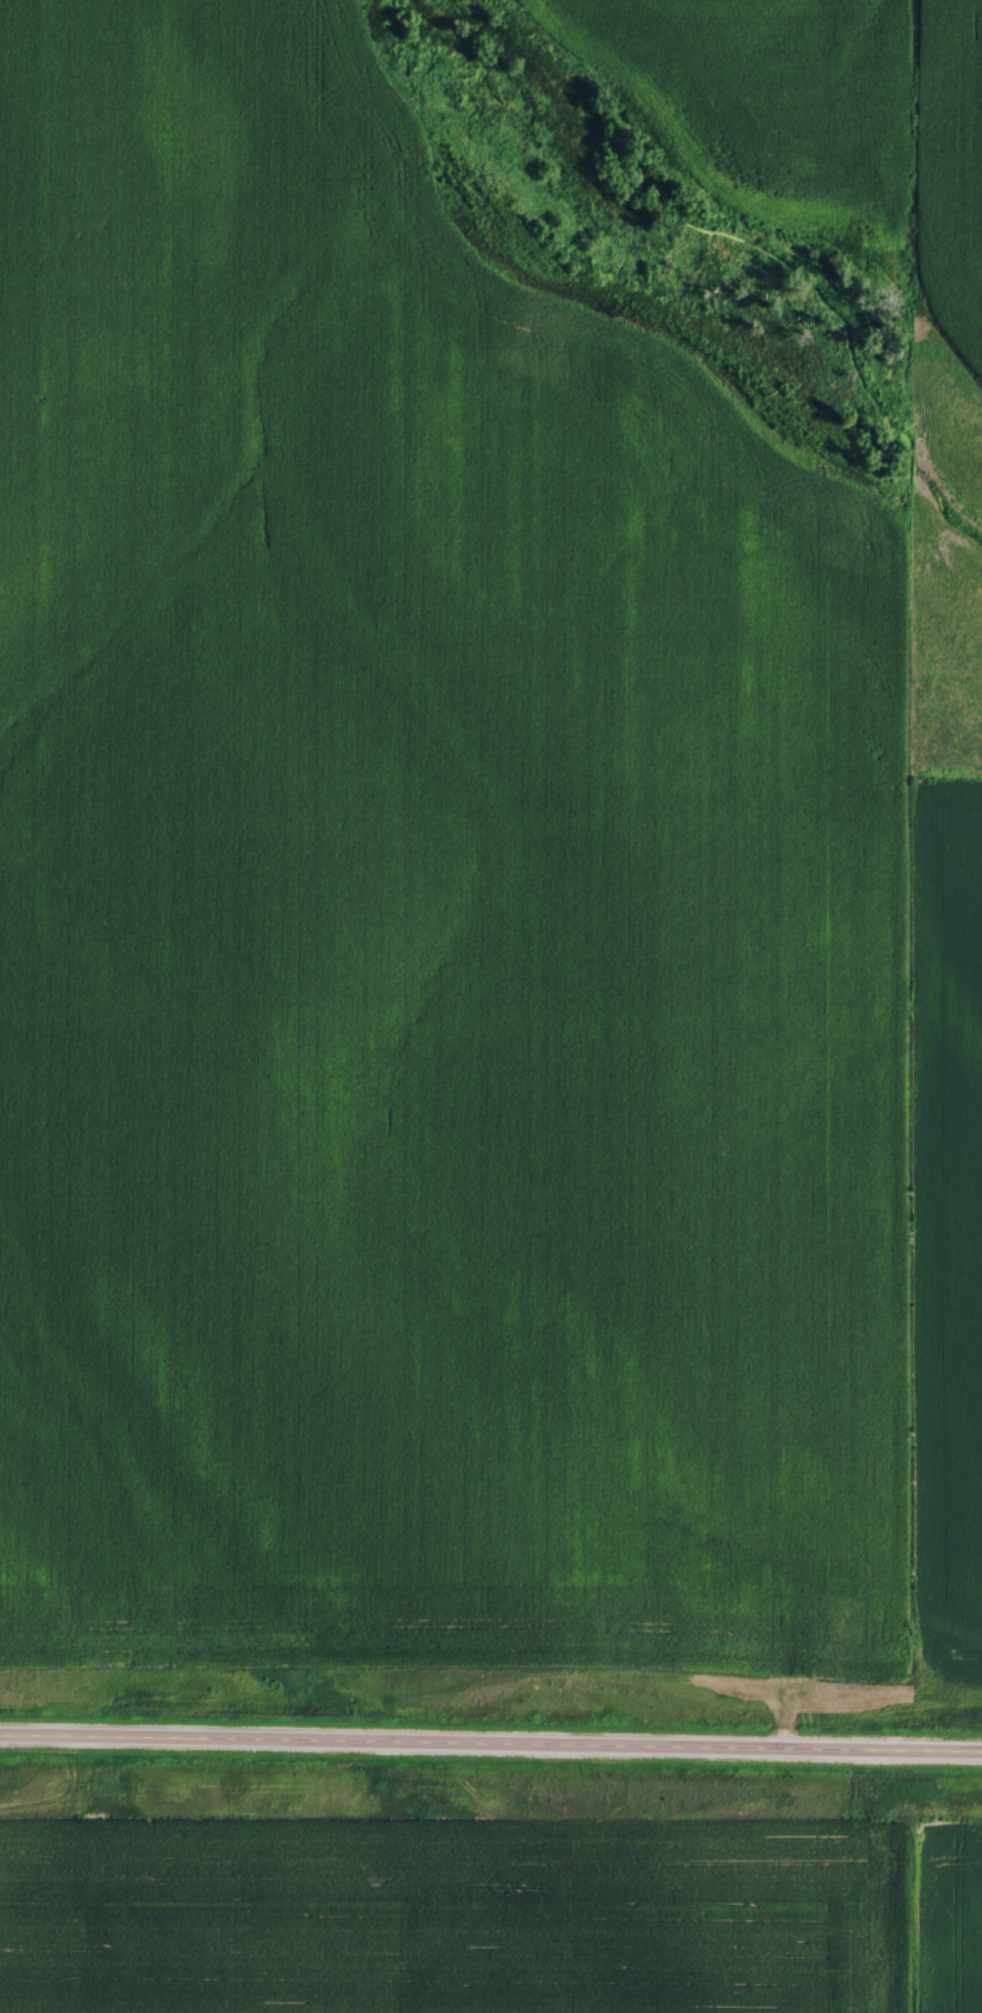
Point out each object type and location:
road: (491, 1741)

